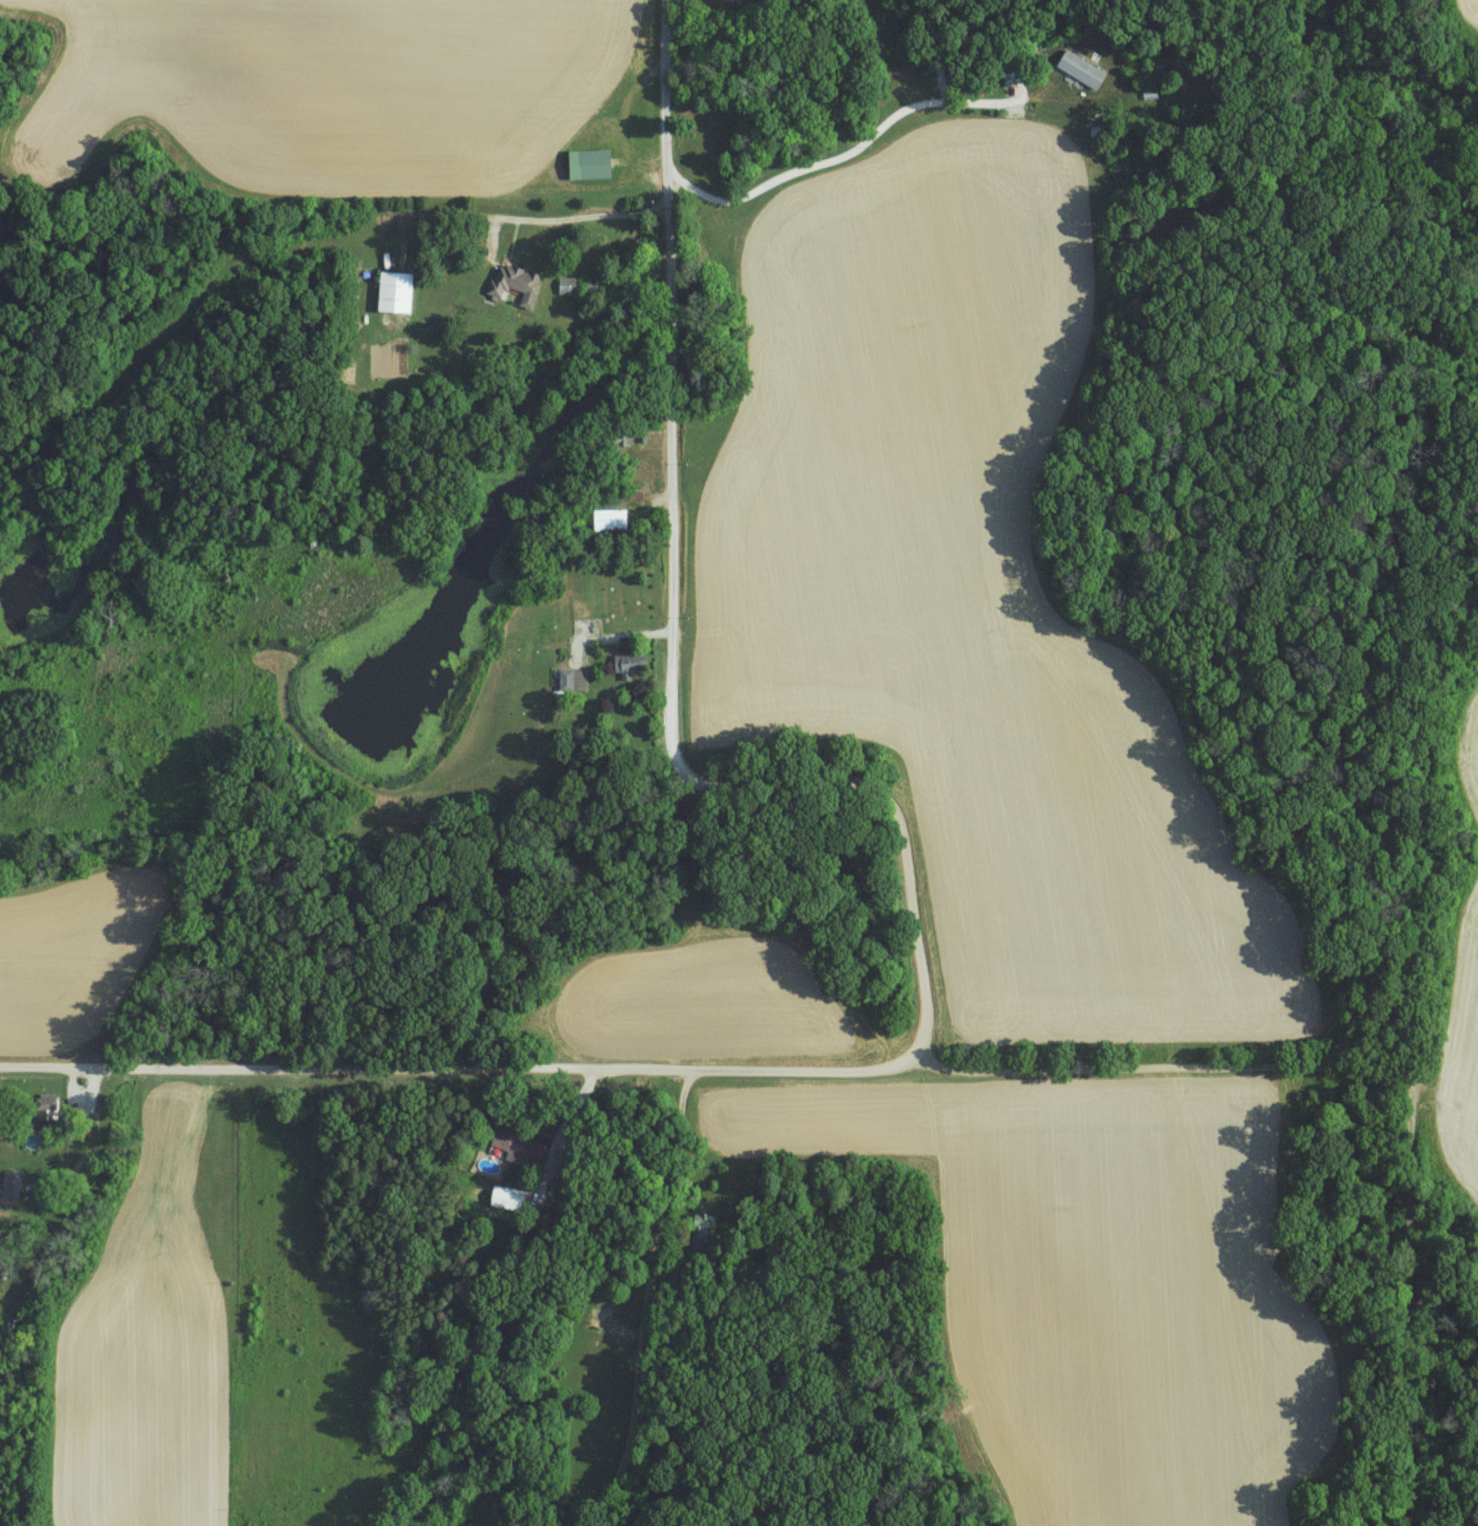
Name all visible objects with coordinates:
building: (1084, 68)
road: (846, 155)
building: (594, 163)
road: (523, 218)
building: (517, 282)
building: (568, 284)
building: (398, 291)
building: (613, 519)
road: (670, 629)
building: (633, 663)
building: (573, 679)
road: (694, 1075)
building: (510, 1196)
road: (692, 1309)

